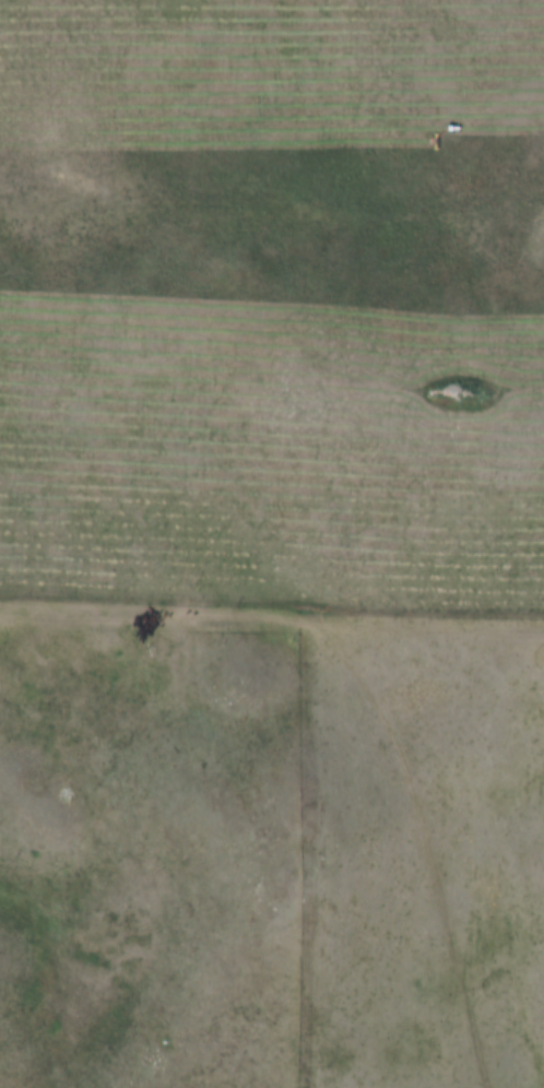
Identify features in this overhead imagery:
road: (272, 617)

